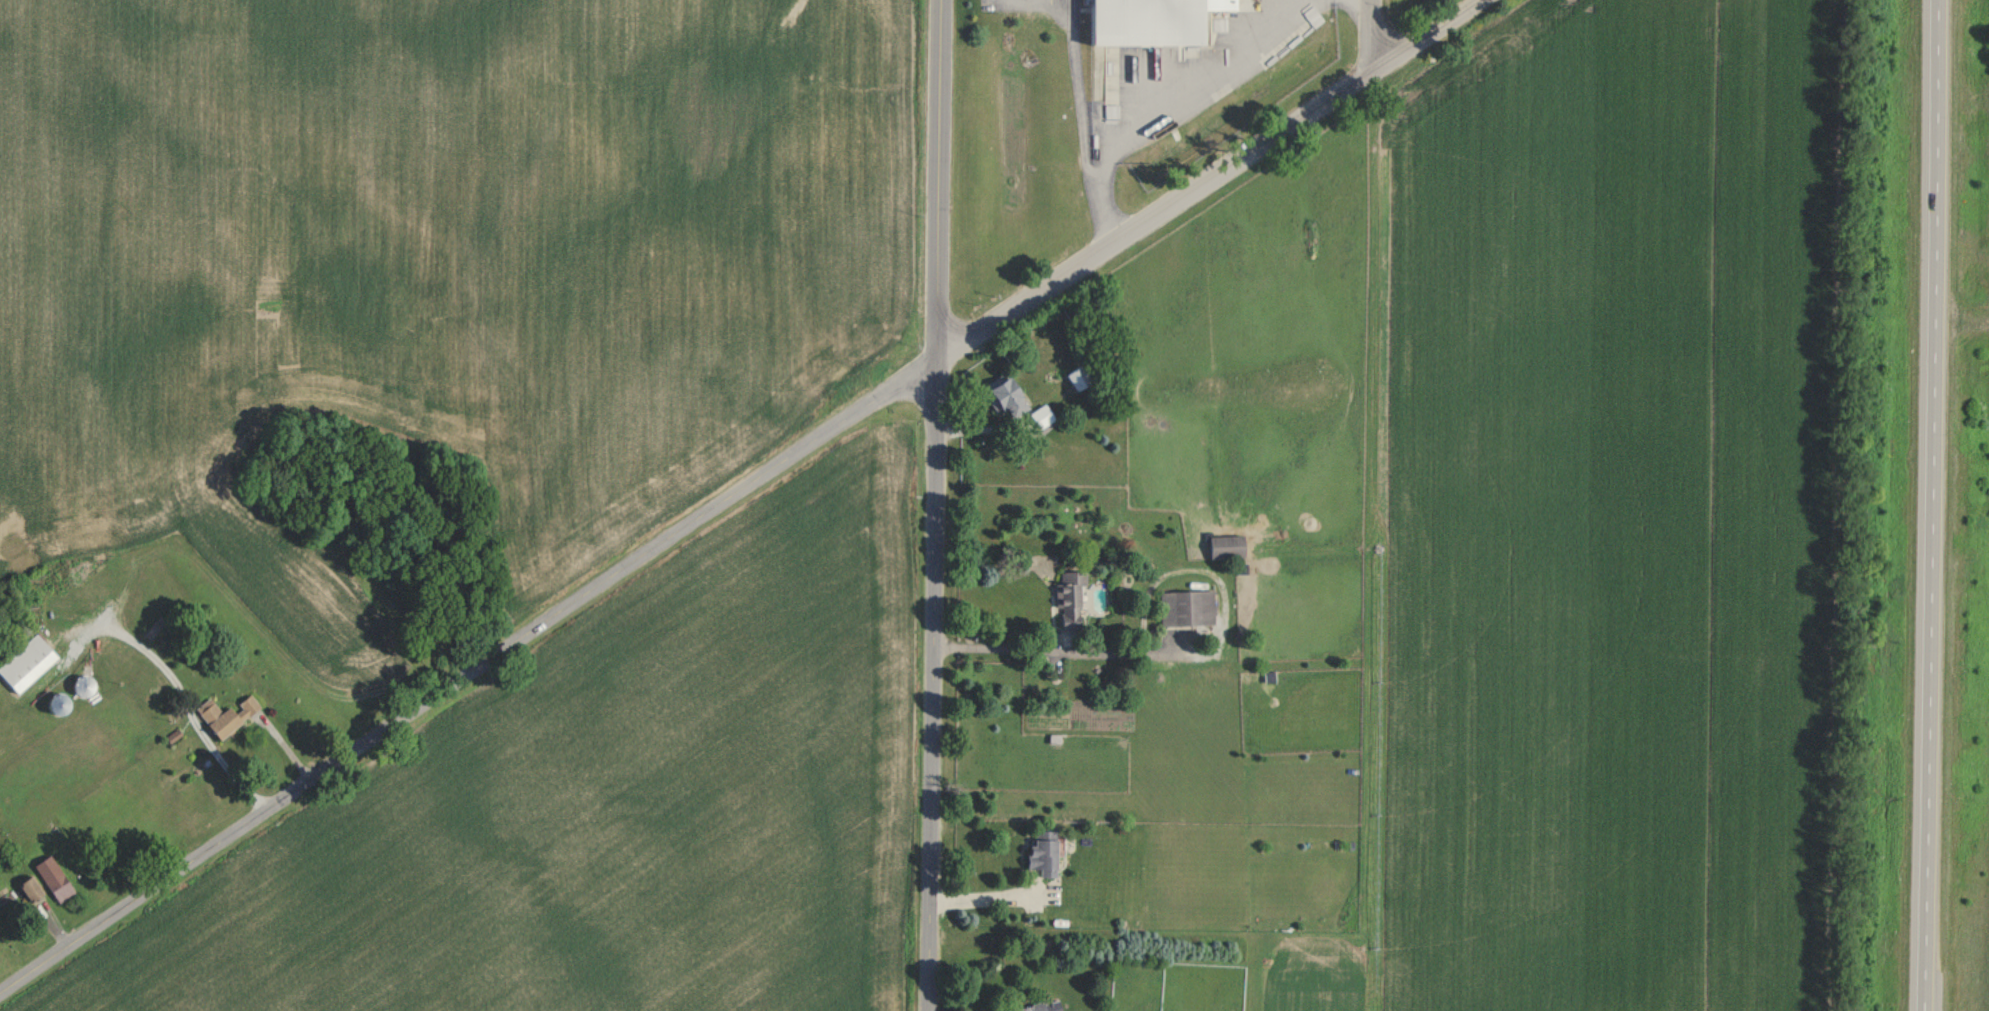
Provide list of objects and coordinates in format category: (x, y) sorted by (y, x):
road: (1040, 3)
road: (1039, 5)
building: (1152, 20)
road: (1370, 36)
road: (1082, 94)
road: (1172, 101)
building: (1004, 395)
road: (735, 491)
road: (934, 505)
road: (1933, 505)
building: (1224, 546)
building: (1068, 598)
building: (1185, 607)
road: (1058, 652)
building: (26, 663)
building: (83, 686)
building: (248, 704)
building: (216, 718)
building: (1042, 852)
building: (52, 878)
building: (28, 890)
road: (984, 904)
building: (1033, 1007)

